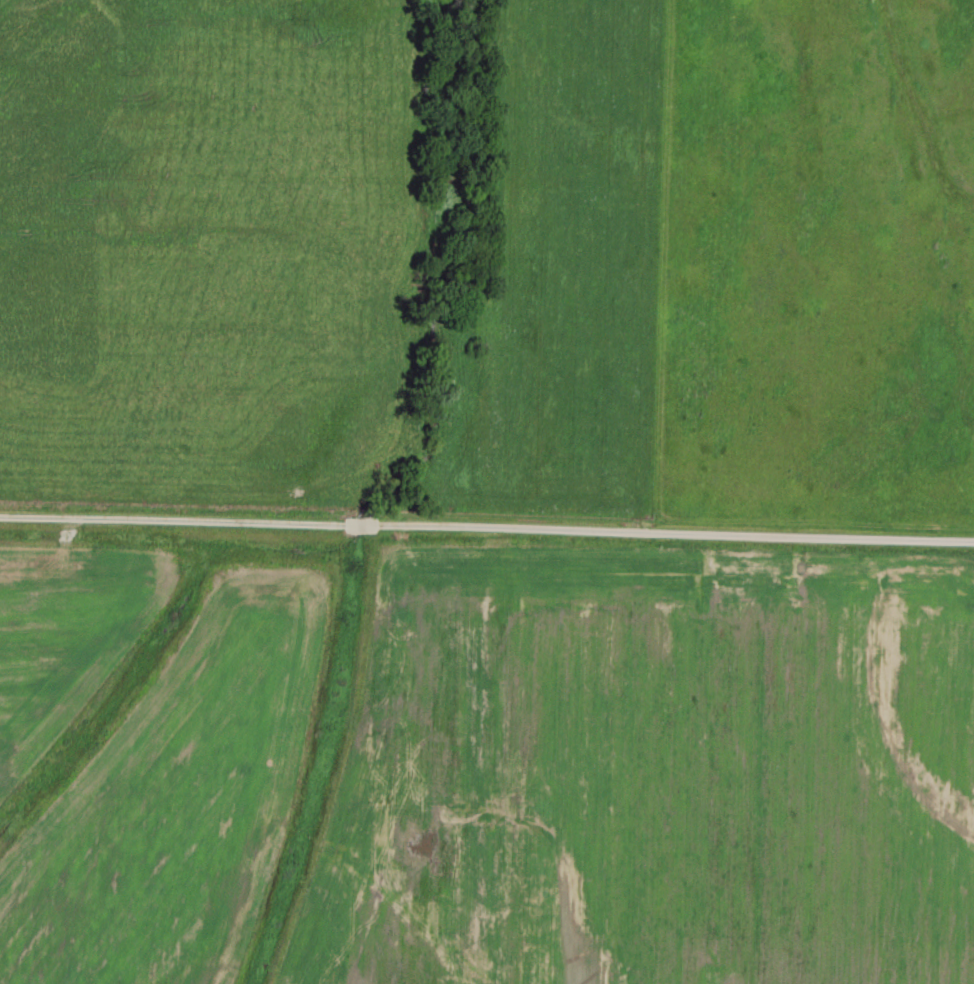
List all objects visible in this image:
road: (487, 524)

